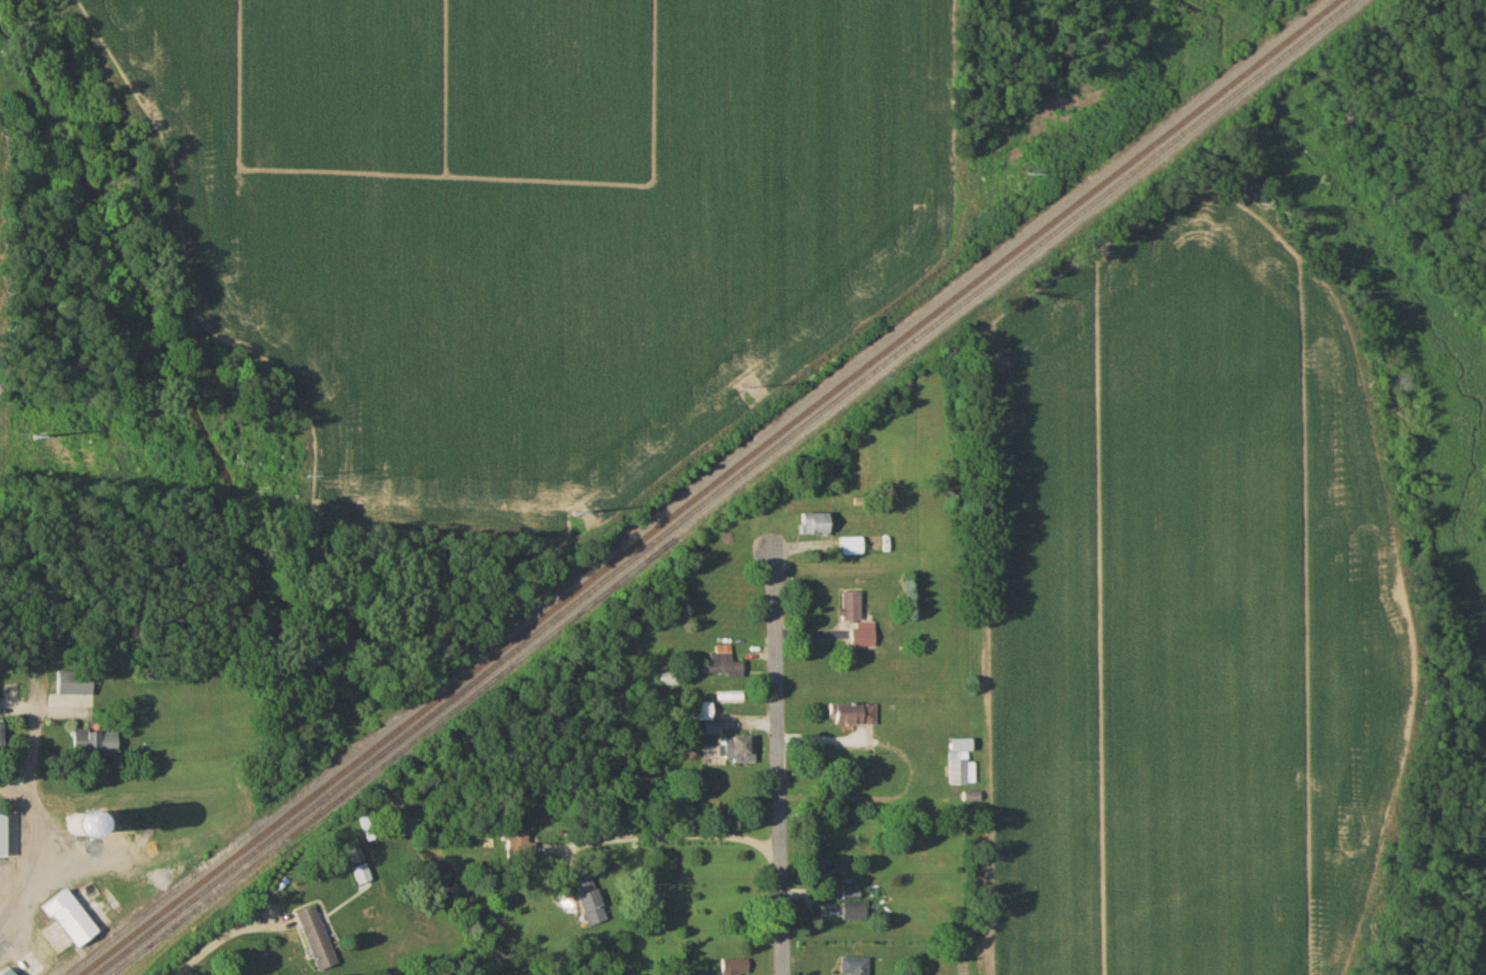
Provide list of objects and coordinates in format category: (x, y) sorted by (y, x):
railway: (725, 487)
railway: (713, 488)
building: (816, 526)
building: (851, 548)
building: (858, 621)
building: (725, 665)
building: (668, 680)
building: (80, 688)
building: (706, 715)
building: (855, 716)
building: (3, 737)
building: (97, 745)
building: (737, 750)
road: (777, 753)
building: (960, 771)
road: (17, 779)
road: (33, 794)
building: (972, 799)
building: (84, 825)
building: (368, 829)
road: (682, 829)
building: (5, 837)
building: (517, 847)
building: (363, 875)
building: (591, 903)
building: (855, 913)
building: (73, 920)
road: (7, 923)
road: (224, 935)
building: (318, 940)
building: (855, 967)
building: (735, 968)
building: (13, 972)

